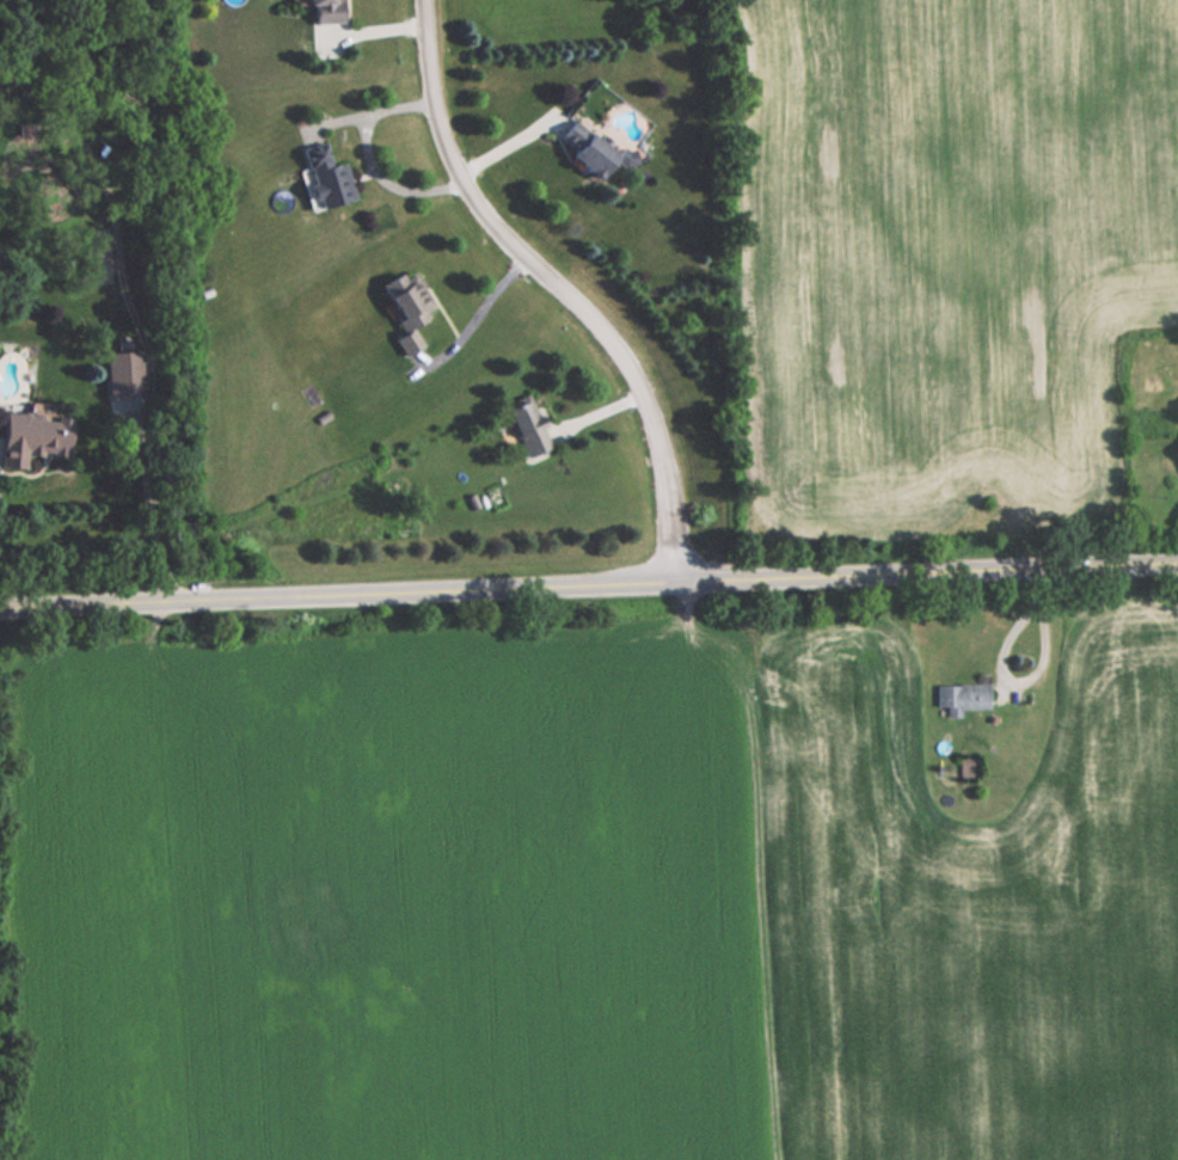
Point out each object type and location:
building: (323, 10)
building: (585, 148)
road: (369, 160)
building: (324, 176)
road: (559, 283)
building: (409, 306)
road: (486, 307)
building: (125, 380)
building: (532, 428)
building: (31, 434)
road: (153, 513)
road: (588, 582)
road: (1030, 680)
building: (963, 695)
road: (702, 880)

